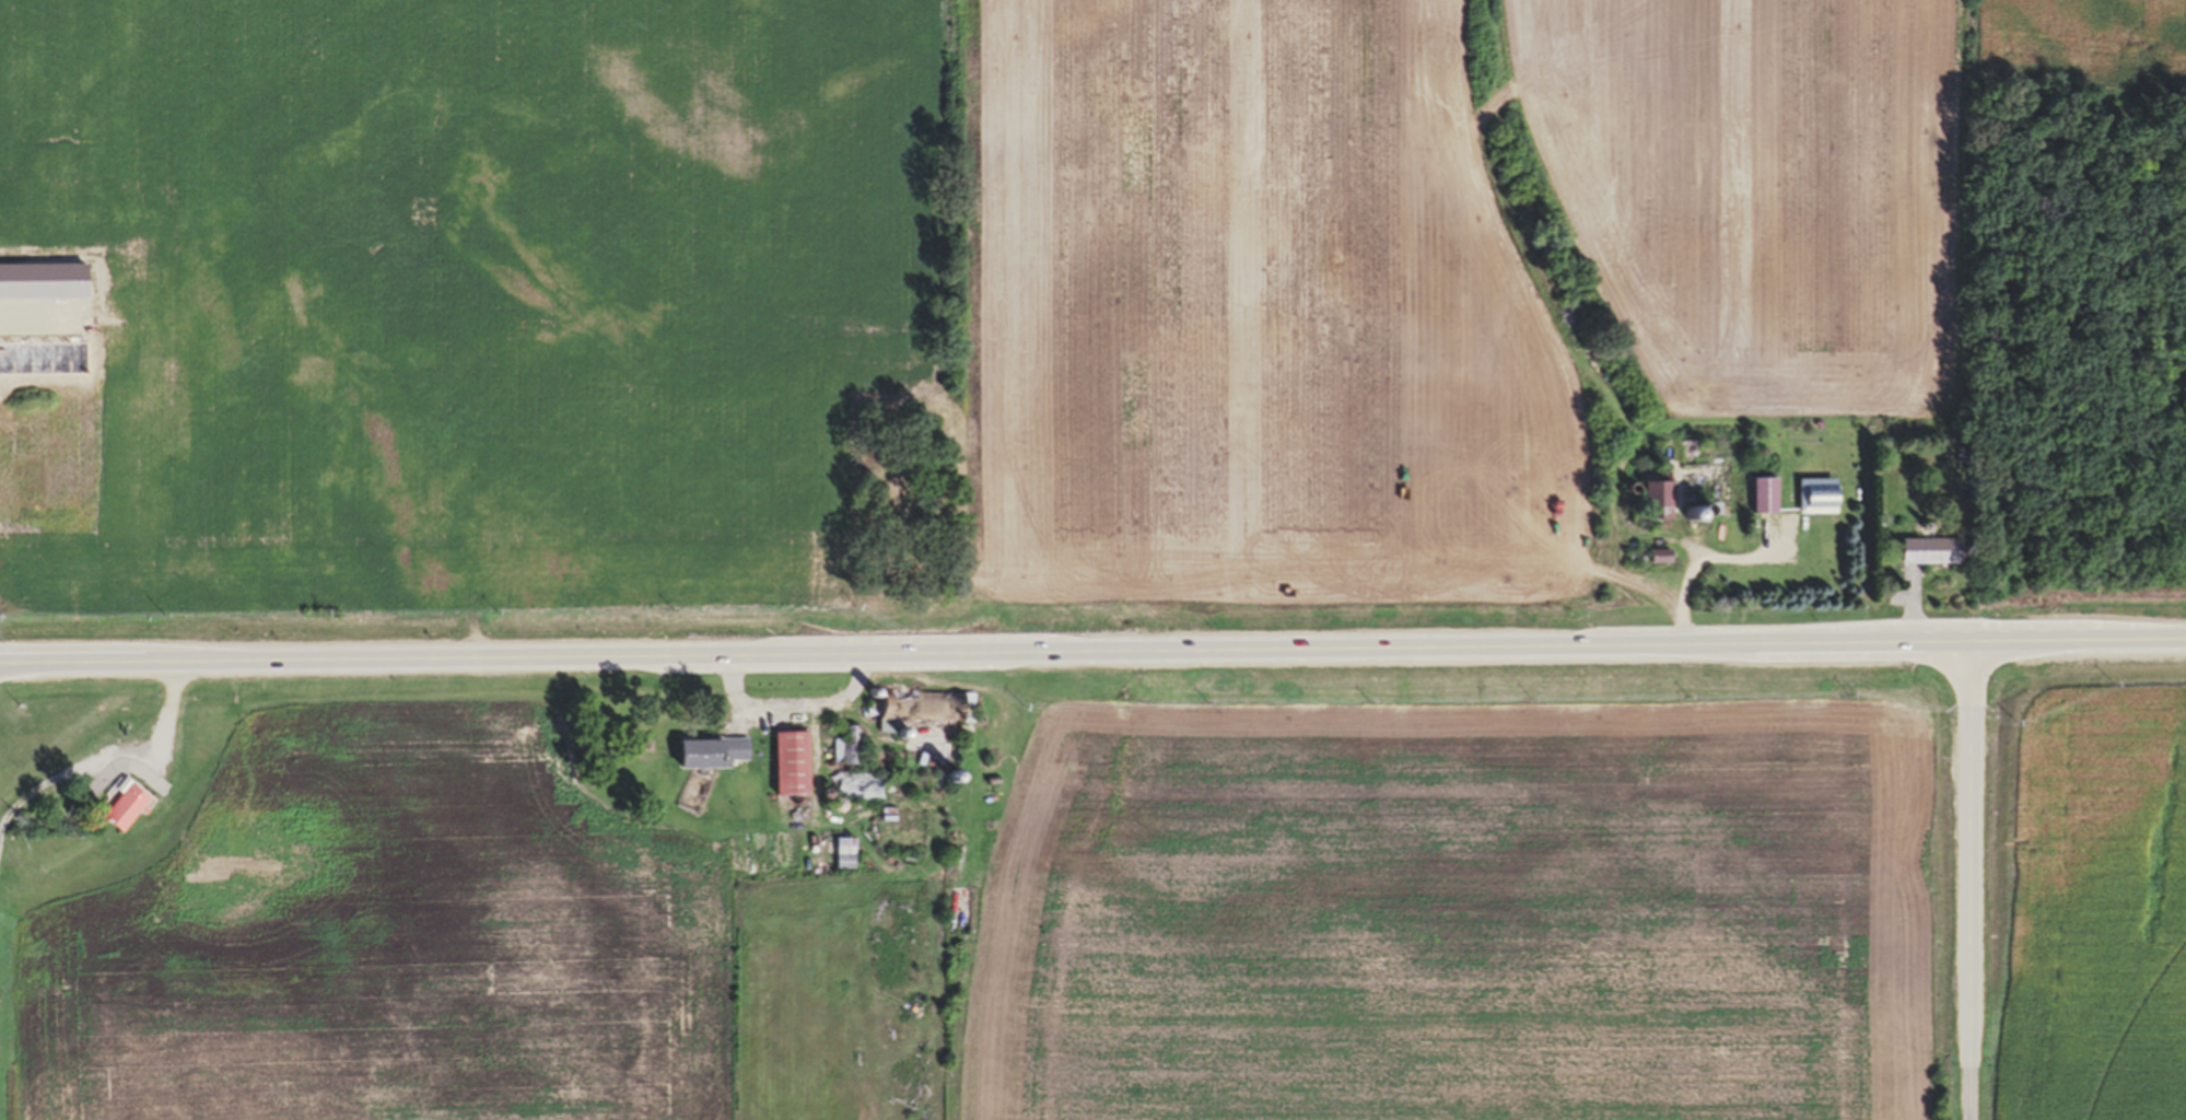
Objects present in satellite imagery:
crop: (987, 279)
building: (1762, 503)
building: (1815, 504)
building: (1648, 512)
building: (75, 537)
building: (1928, 559)
road: (1092, 655)
building: (921, 715)
building: (845, 755)
building: (712, 761)
building: (790, 772)
building: (857, 793)
building: (121, 810)
building: (842, 862)
road: (1971, 885)

